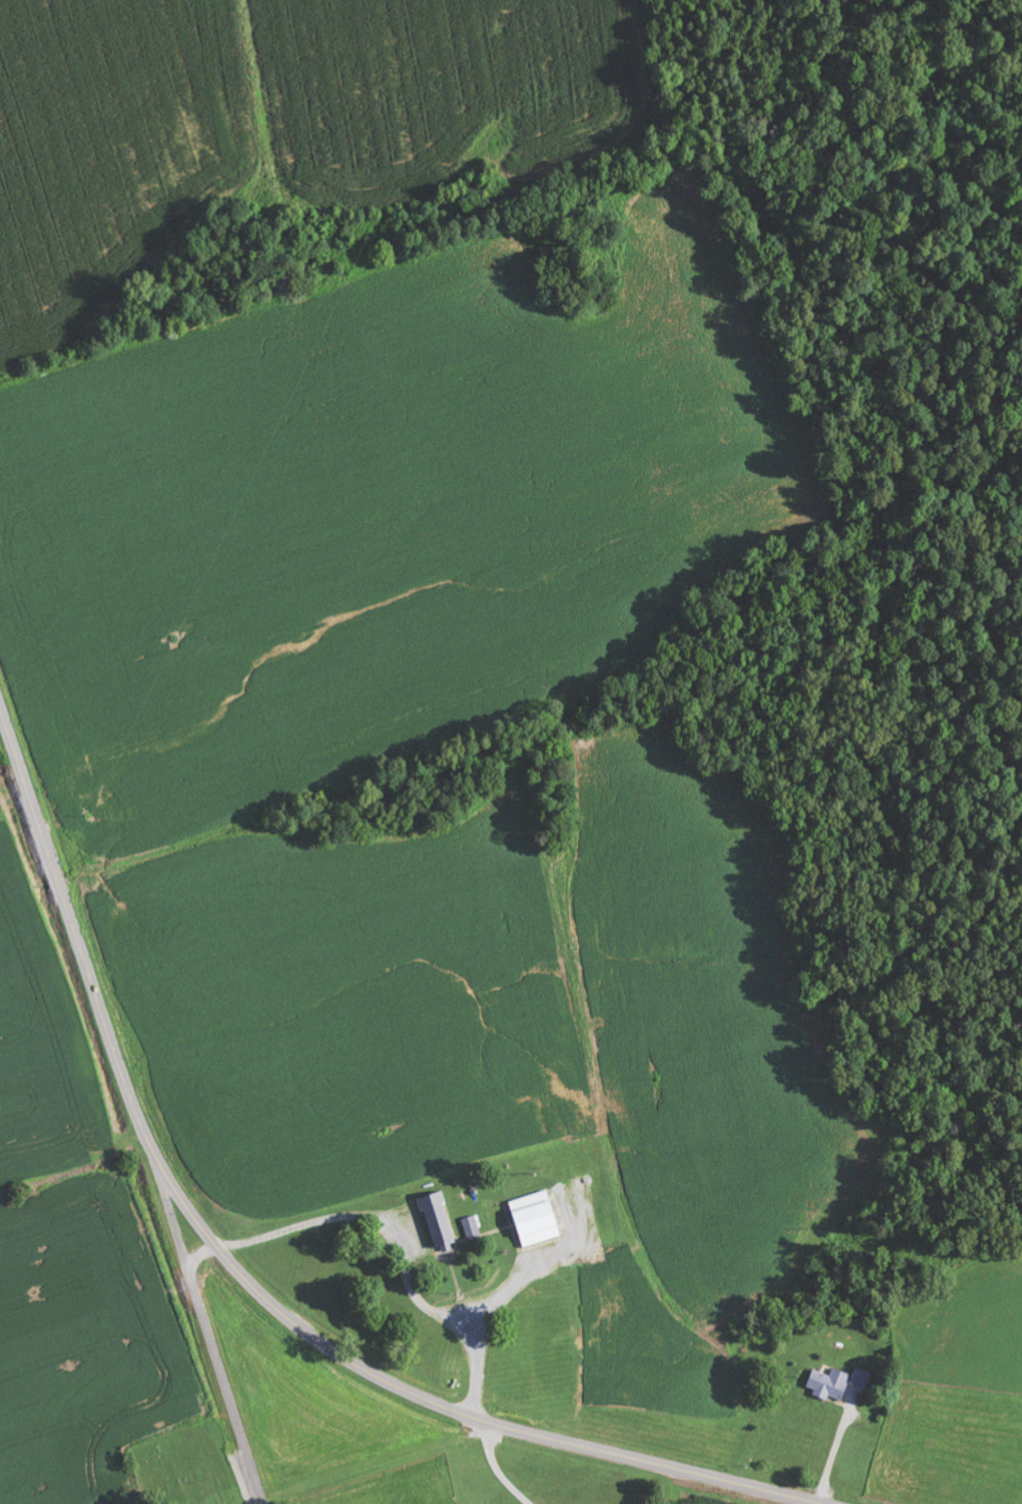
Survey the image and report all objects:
building: (433, 1221)
building: (530, 1221)
building: (469, 1229)
road: (203, 1258)
road: (244, 1278)
road: (208, 1328)
building: (835, 1385)
park: (186, 1467)

